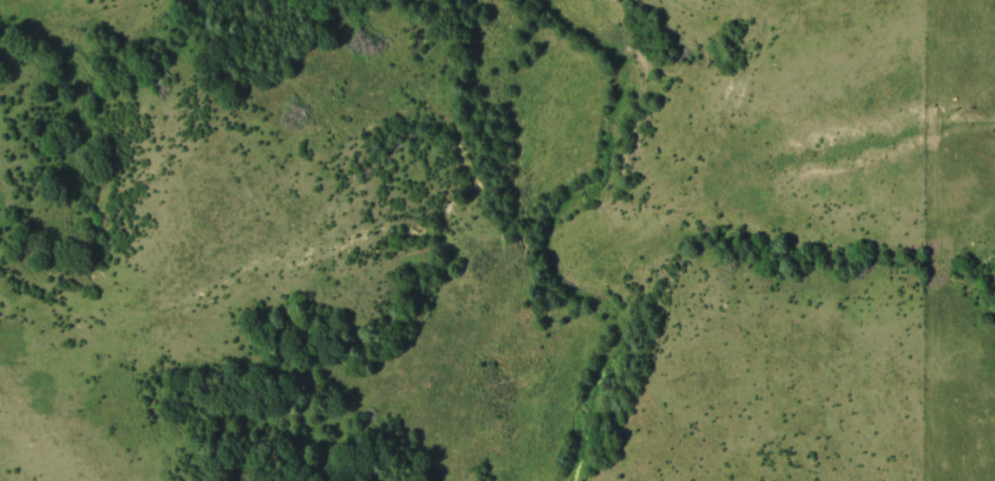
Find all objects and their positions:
river: (549, 226)

